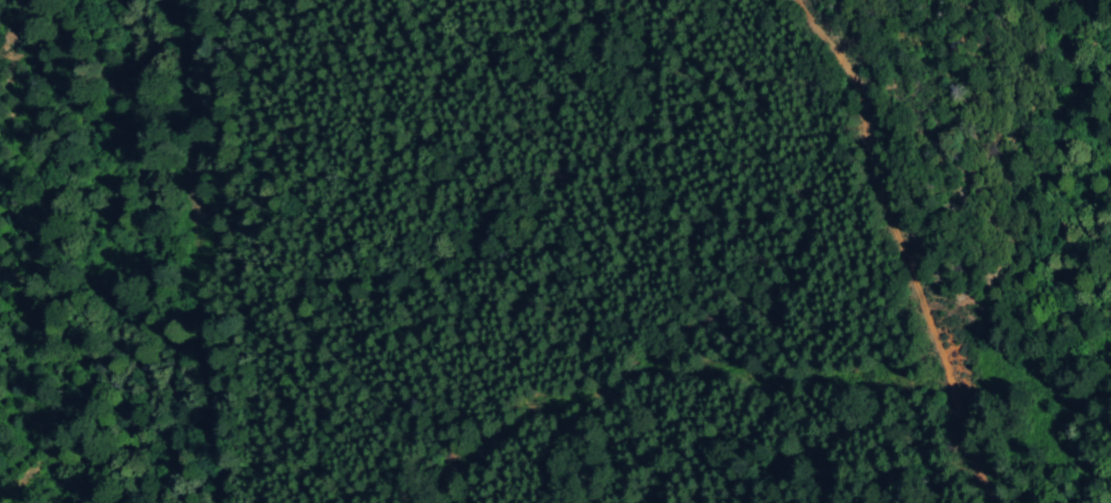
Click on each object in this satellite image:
road: (904, 247)

